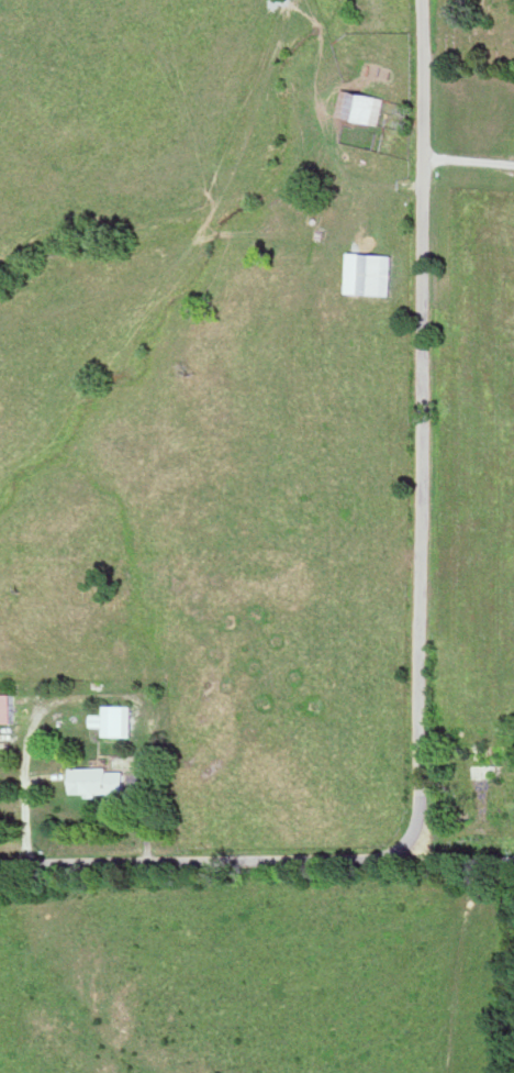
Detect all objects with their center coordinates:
park: (473, 34)
building: (362, 108)
building: (381, 276)
road: (424, 418)
building: (10, 707)
building: (121, 720)
building: (490, 762)
building: (107, 781)
road: (211, 858)
road: (463, 864)

